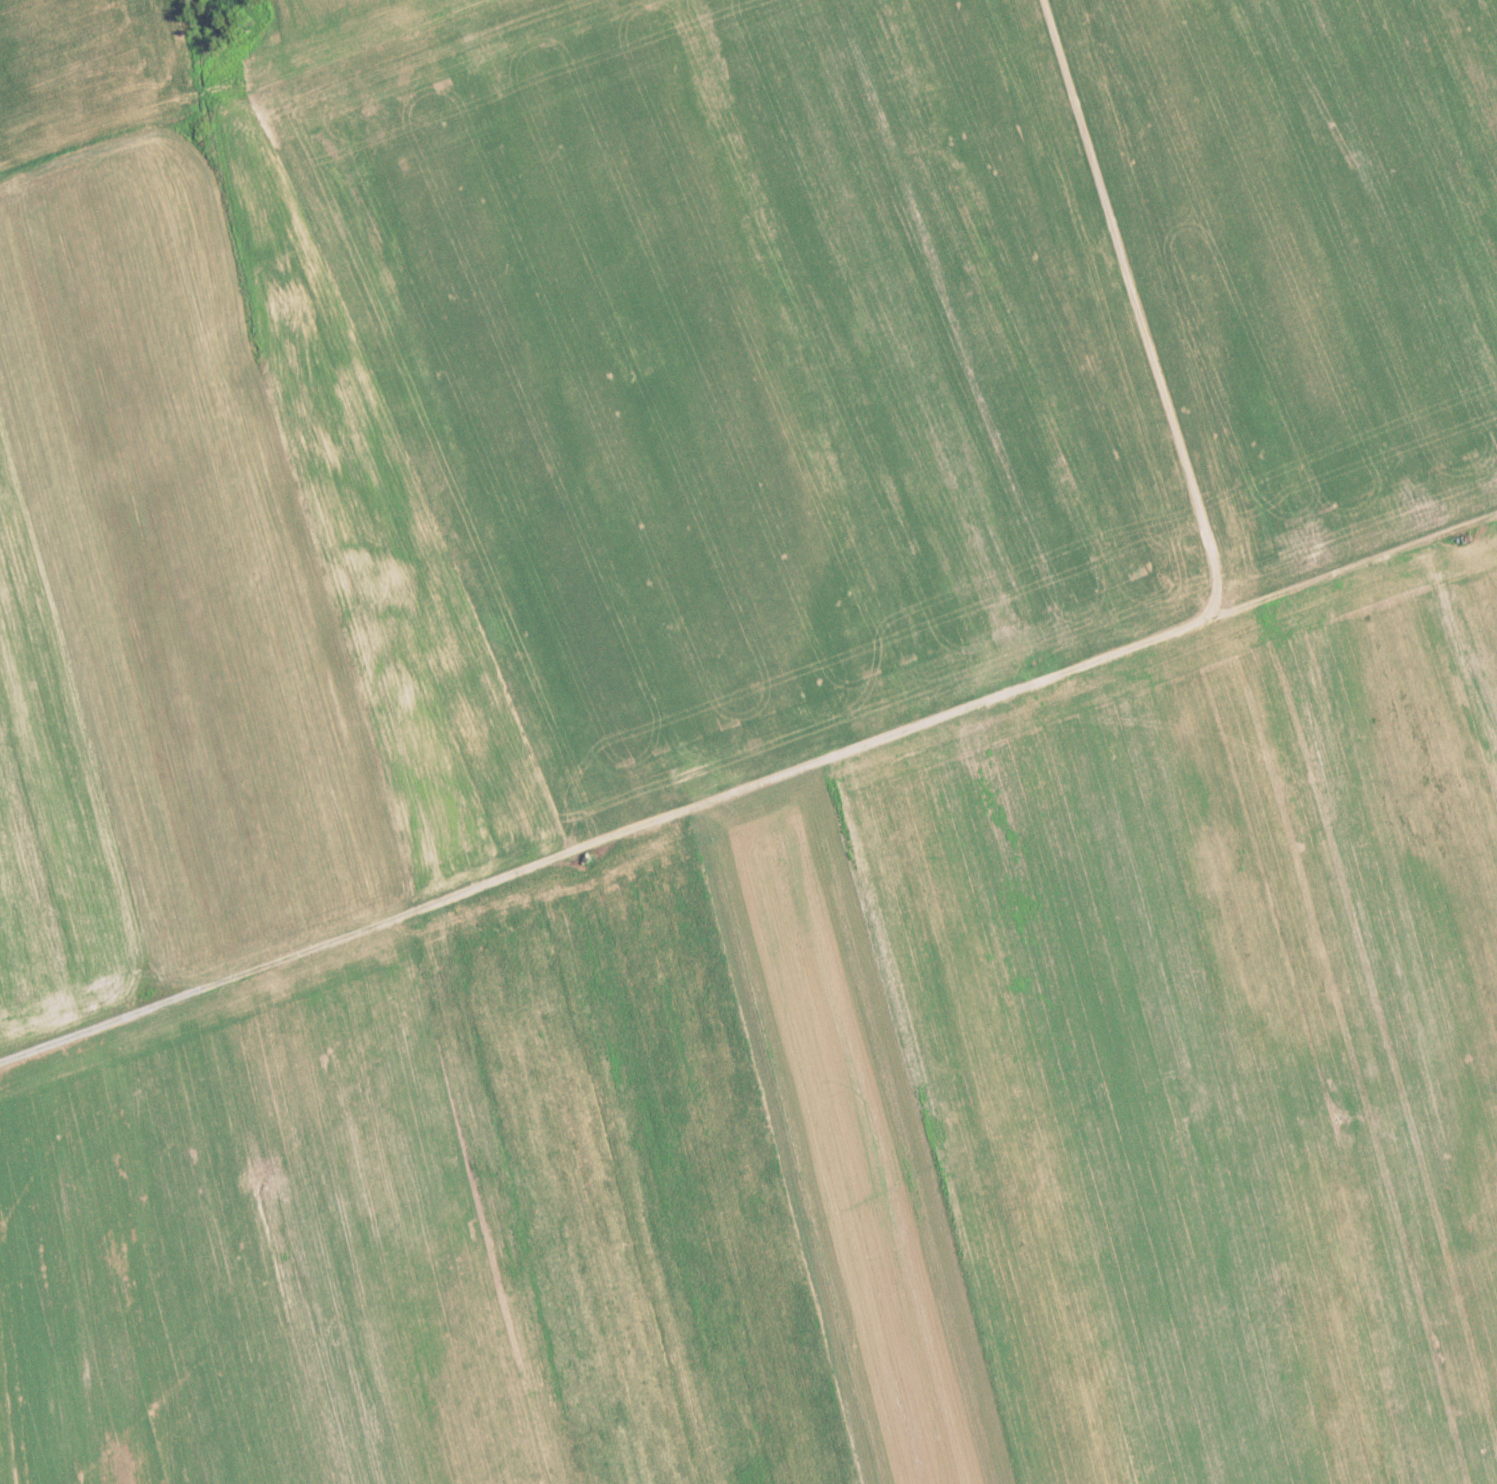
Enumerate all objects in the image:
road: (872, 705)

